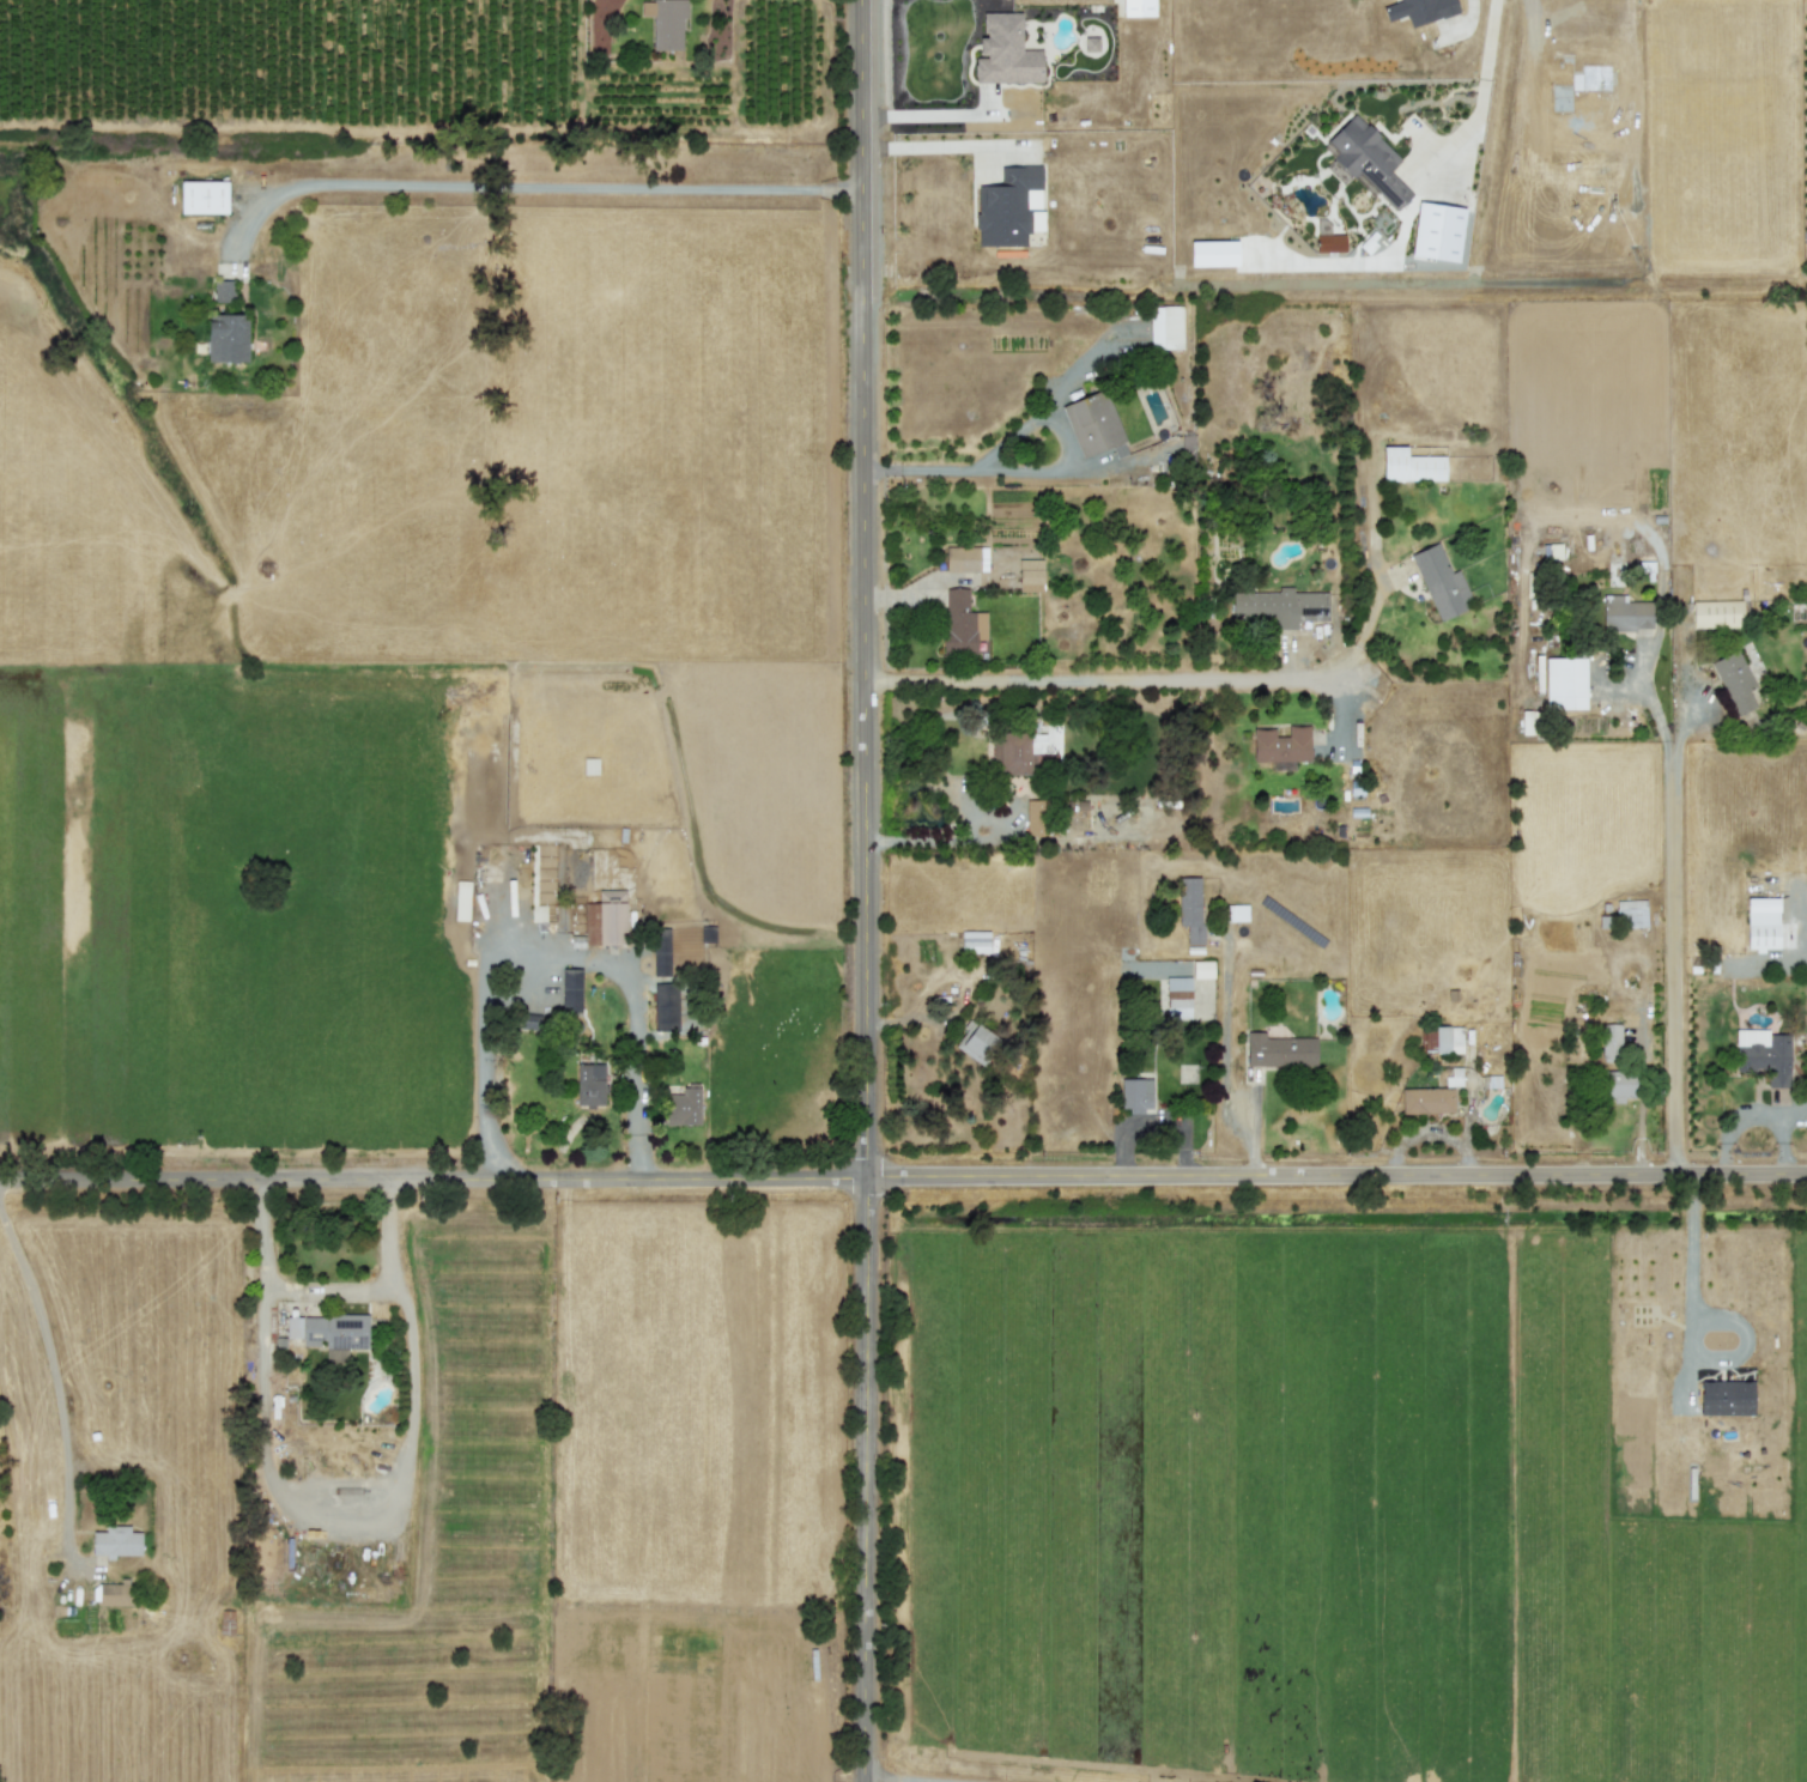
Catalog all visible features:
building: (1419, 10)
building: (665, 22)
building: (1005, 50)
road: (1480, 95)
road: (928, 113)
road: (930, 145)
building: (1368, 159)
road: (538, 184)
building: (204, 196)
building: (1009, 206)
building: (1437, 230)
building: (1329, 242)
building: (224, 290)
building: (1165, 326)
building: (228, 337)
building: (1092, 422)
building: (1411, 465)
road: (1038, 469)
building: (964, 557)
building: (1030, 575)
building: (1441, 581)
building: (1280, 606)
building: (1626, 613)
building: (1716, 613)
building: (962, 623)
road: (1106, 678)
building: (1735, 680)
building: (1565, 681)
building: (1281, 744)
building: (1014, 751)
building: (590, 764)
building: (1036, 817)
road: (941, 840)
road: (866, 891)
building: (461, 899)
building: (1190, 907)
building: (538, 911)
building: (1237, 911)
building: (1631, 913)
road: (1674, 913)
building: (605, 917)
building: (1761, 922)
building: (975, 940)
building: (661, 951)
building: (1201, 968)
building: (571, 988)
crop: (236, 996)
building: (1187, 996)
road: (635, 1002)
building: (1442, 1038)
building: (975, 1041)
building: (1279, 1049)
building: (1763, 1054)
building: (1614, 1066)
building: (589, 1083)
building: (1135, 1093)
building: (1426, 1099)
building: (684, 1104)
road: (1639, 1104)
road: (903, 1174)
road: (1691, 1261)
road: (327, 1286)
building: (329, 1332)
road: (51, 1359)
building: (1726, 1396)
road: (338, 1496)
building: (116, 1540)
building: (115, 1593)
road: (909, 1778)

